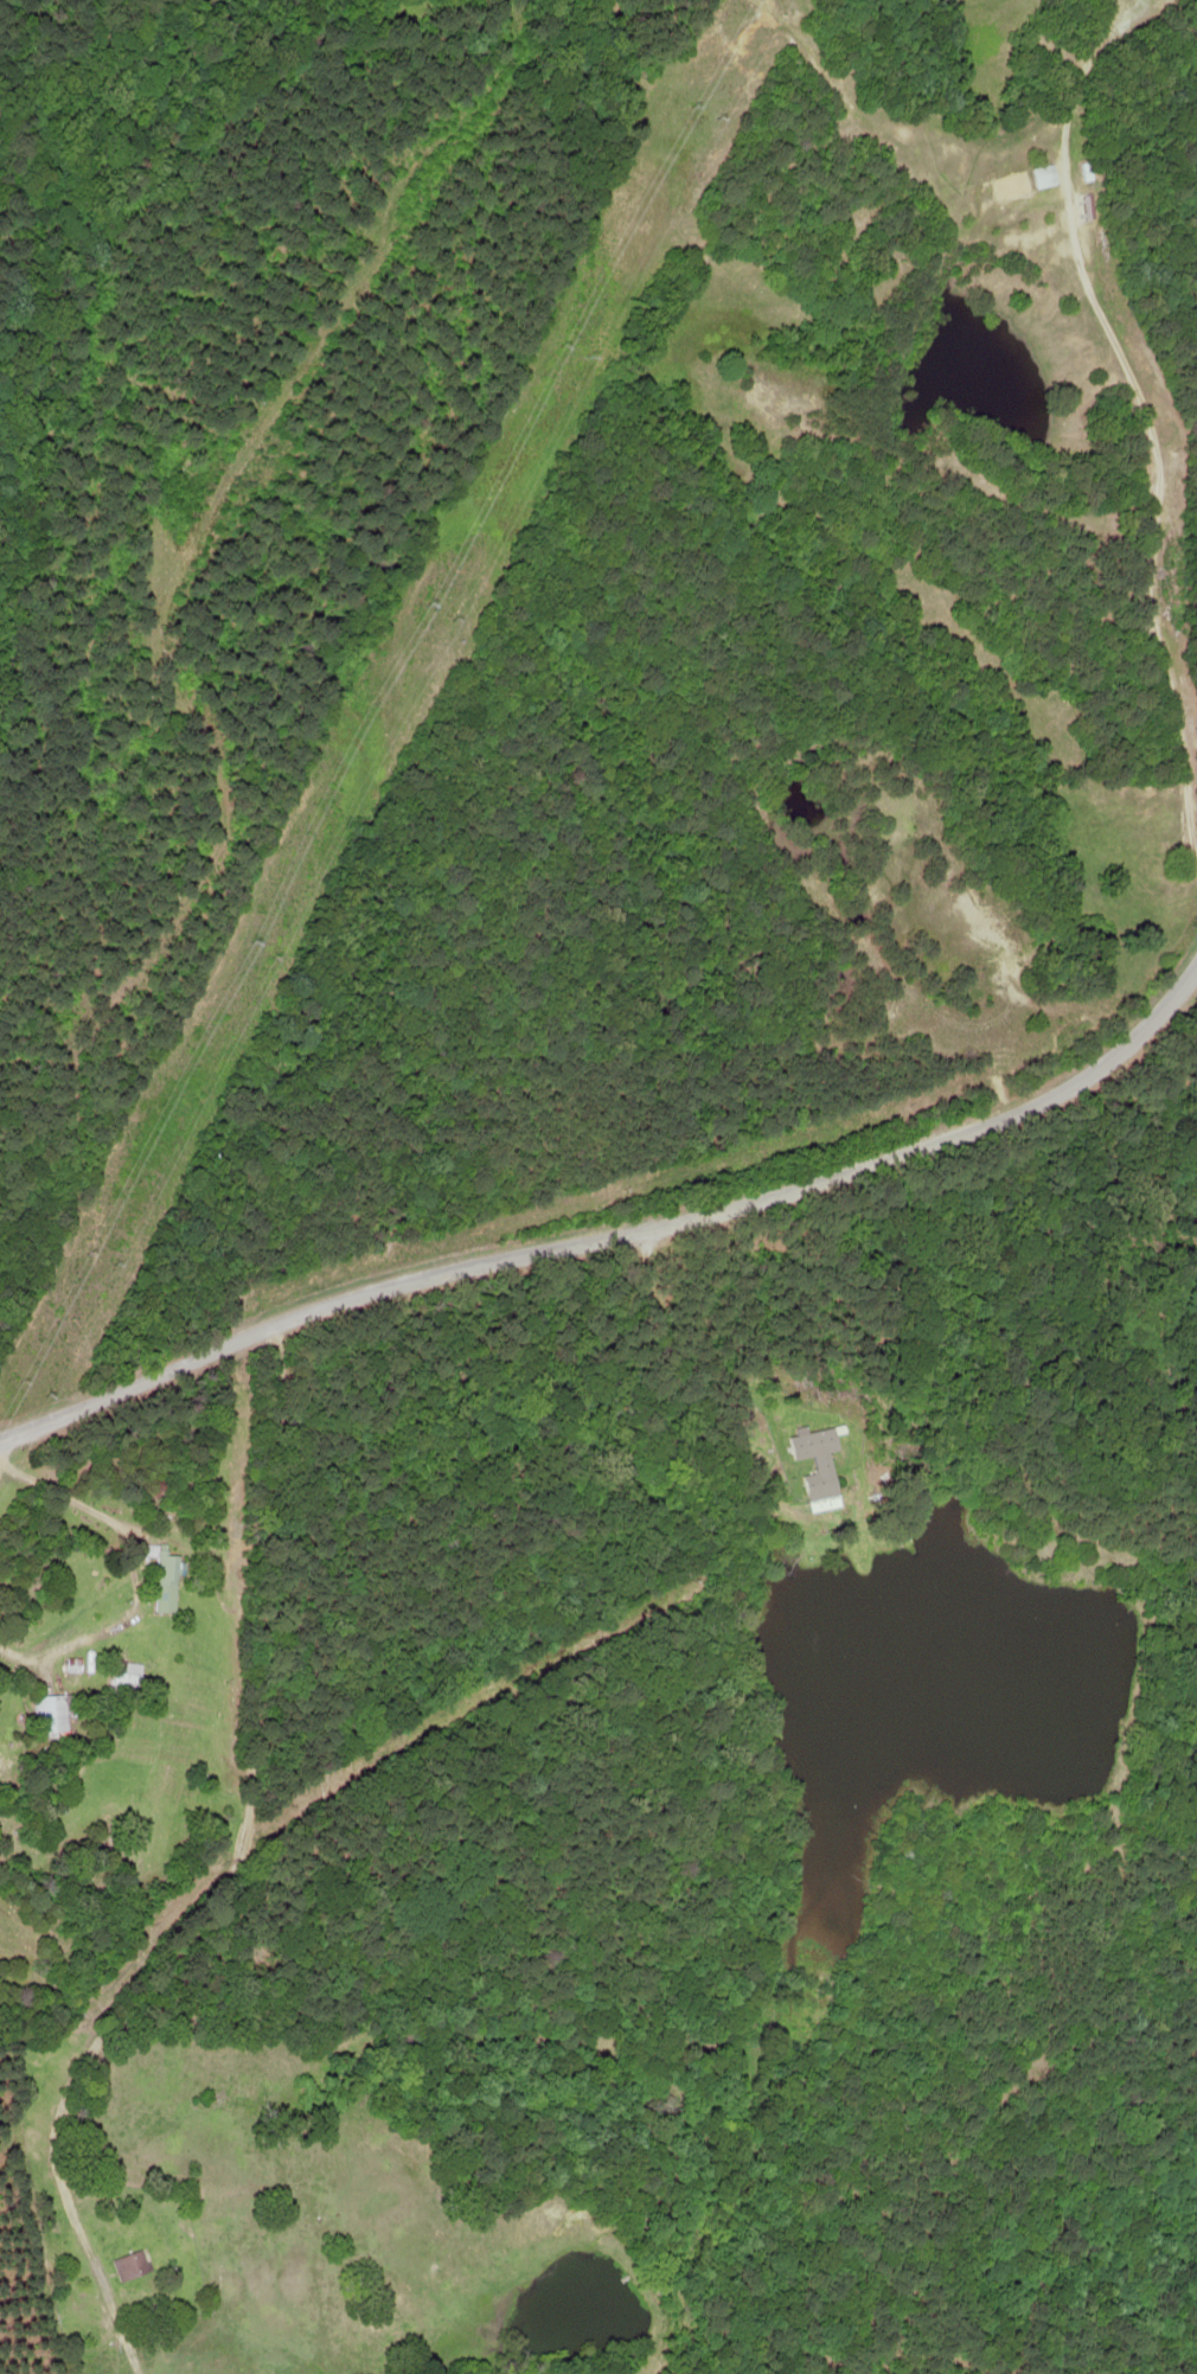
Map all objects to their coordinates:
building: (642, 83)
building: (1044, 177)
building: (1012, 186)
power tower: (415, 594)
road: (731, 1186)
road: (121, 1389)
building: (814, 1444)
building: (164, 1578)
building: (126, 1679)
building: (55, 1715)
road: (218, 1886)
building: (130, 2265)

